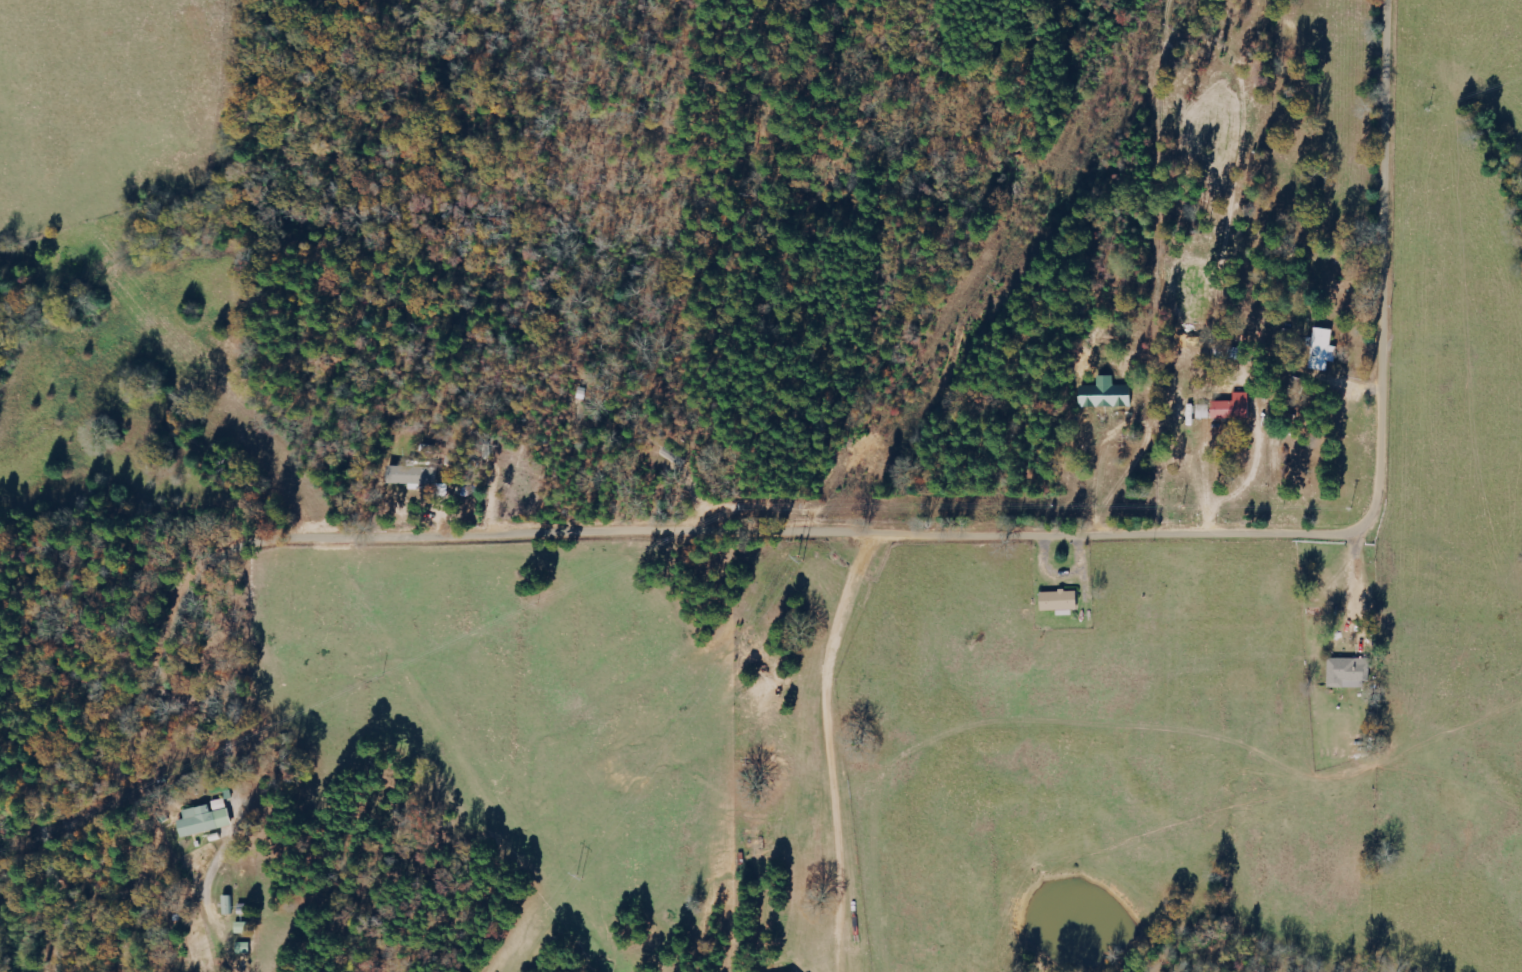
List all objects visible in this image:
power tower: (986, 280)
building: (1325, 350)
building: (1109, 394)
building: (1236, 408)
building: (1205, 411)
building: (411, 474)
road: (824, 535)
power tower: (797, 564)
building: (1350, 673)
building: (208, 819)
power tower: (578, 878)

